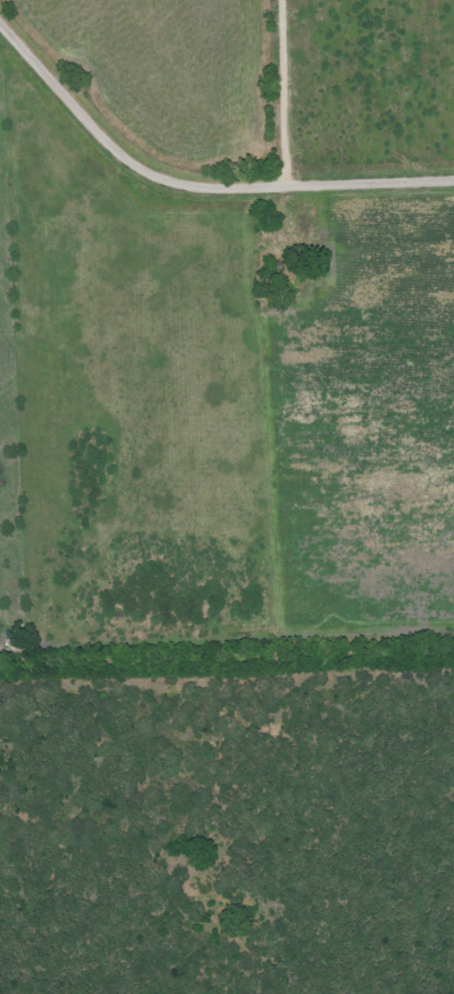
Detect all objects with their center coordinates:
road: (194, 185)

